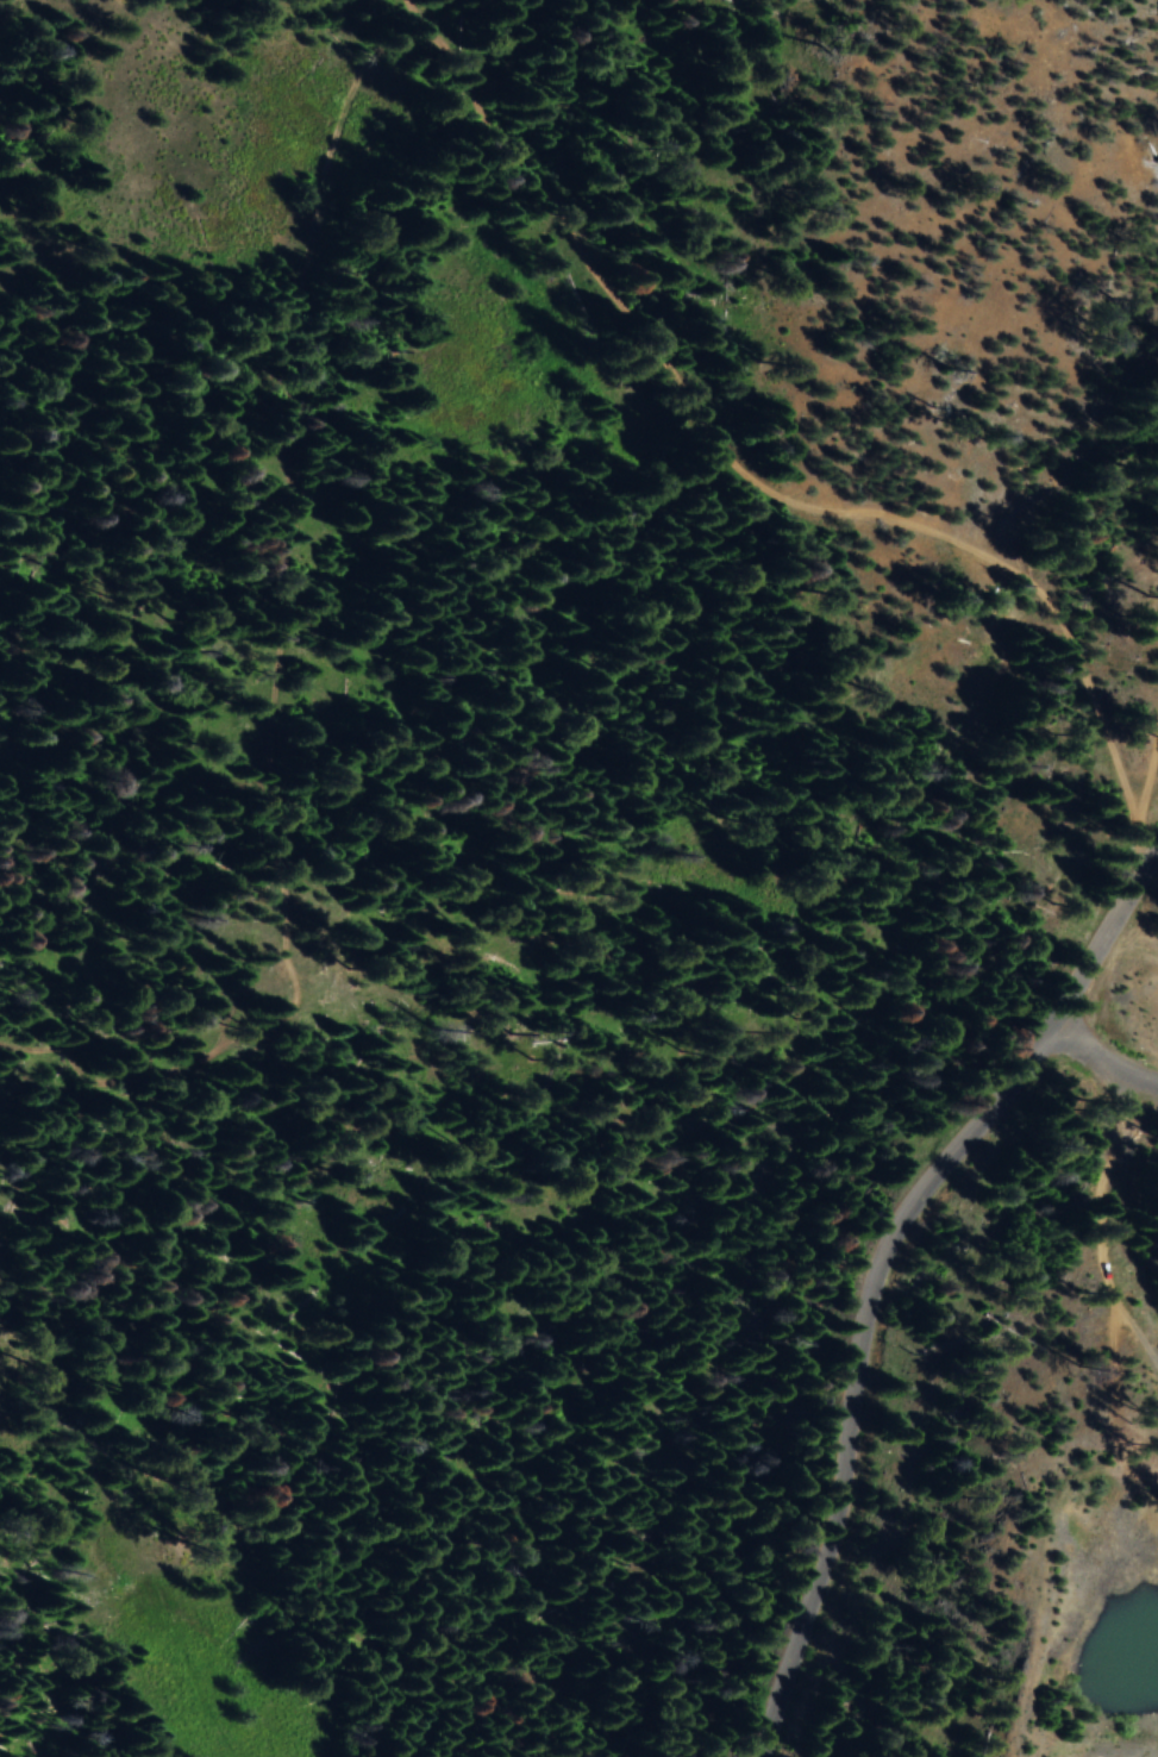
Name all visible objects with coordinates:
road: (775, 461)
road: (275, 648)
road: (1151, 771)
road: (1100, 1059)
road: (1098, 1223)
road: (880, 1276)
parking lot: (1144, 1756)

